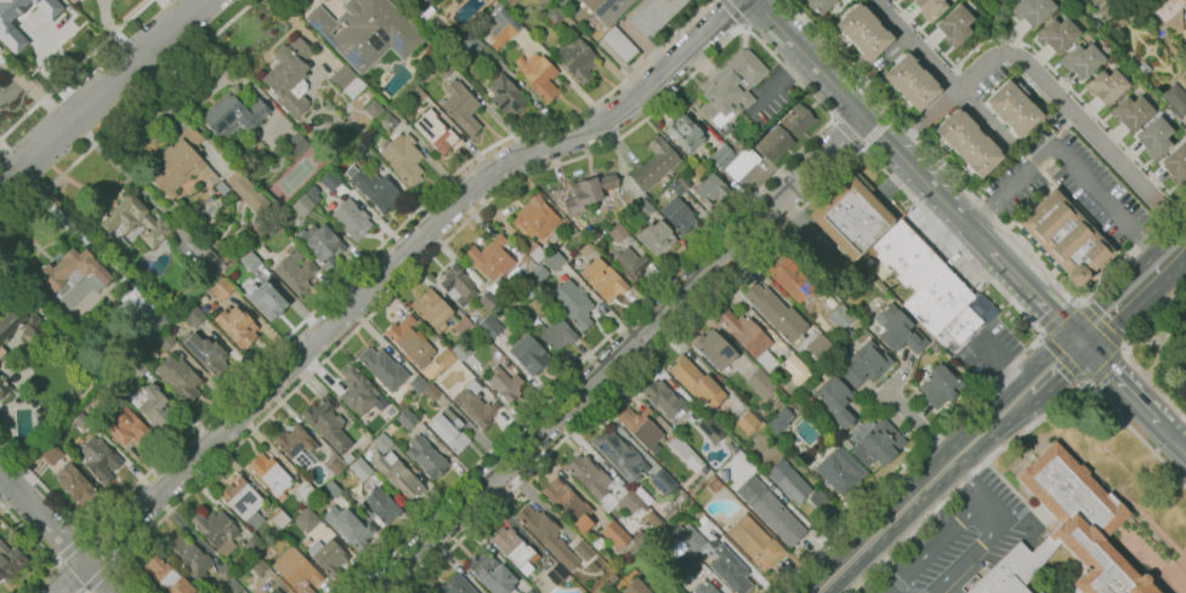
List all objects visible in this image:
building: (73, 0)
building: (76, 0)
building: (511, 2)
building: (819, 5)
building: (420, 7)
building: (607, 8)
building: (930, 8)
building: (1168, 8)
building: (1032, 11)
building: (555, 13)
building: (653, 15)
road: (730, 15)
building: (1174, 19)
building: (503, 25)
building: (954, 25)
building: (367, 32)
building: (10, 33)
building: (862, 33)
building: (1056, 34)
building: (620, 44)
building: (471, 47)
road: (715, 51)
building: (577, 59)
building: (1082, 61)
building: (443, 68)
road: (75, 70)
road: (938, 72)
building: (538, 74)
building: (290, 78)
building: (347, 81)
road: (777, 81)
building: (909, 82)
road: (1048, 84)
building: (1106, 85)
building: (731, 86)
road: (100, 91)
building: (505, 95)
building: (460, 107)
building: (1014, 107)
building: (373, 109)
building: (1131, 112)
road: (126, 115)
building: (233, 116)
road: (833, 118)
building: (387, 121)
building: (1185, 121)
road: (872, 125)
road: (879, 129)
building: (435, 131)
building: (726, 131)
building: (784, 131)
road: (849, 132)
building: (685, 133)
building: (1154, 137)
building: (966, 142)
building: (294, 144)
building: (737, 147)
road: (862, 147)
building: (359, 149)
road: (858, 152)
building: (722, 155)
building: (402, 158)
road: (114, 161)
building: (1176, 162)
building: (742, 164)
building: (175, 165)
building: (648, 171)
park: (293, 176)
building: (683, 182)
building: (221, 187)
building: (376, 188)
building: (676, 188)
building: (709, 189)
building: (588, 192)
building: (249, 193)
building: (312, 193)
road: (1004, 193)
road: (1101, 196)
building: (302, 205)
building: (643, 206)
road: (984, 206)
building: (677, 215)
building: (850, 215)
building: (534, 217)
building: (132, 219)
building: (351, 219)
building: (562, 223)
building: (618, 233)
building: (1065, 236)
building: (657, 238)
building: (123, 244)
building: (320, 244)
road: (1174, 250)
building: (535, 252)
building: (229, 253)
building: (906, 255)
building: (554, 260)
building: (250, 261)
building: (524, 263)
building: (630, 263)
building: (208, 264)
building: (492, 264)
building: (295, 270)
building: (70, 272)
building: (538, 273)
road: (380, 274)
building: (603, 279)
building: (794, 284)
building: (458, 285)
building: (220, 287)
road: (337, 289)
building: (526, 289)
road: (1034, 296)
building: (937, 300)
building: (267, 301)
building: (488, 301)
building: (572, 302)
road: (1119, 302)
road: (1077, 303)
building: (431, 309)
building: (774, 312)
building: (839, 317)
building: (197, 318)
road: (1059, 318)
building: (18, 321)
building: (965, 321)
building: (535, 323)
road: (1100, 325)
building: (152, 326)
building: (237, 326)
building: (463, 326)
building: (488, 326)
building: (900, 330)
building: (555, 333)
road: (1042, 335)
building: (749, 338)
building: (165, 340)
building: (409, 341)
road: (1156, 341)
traffic signals: (1077, 344)
building: (819, 347)
road: (1123, 347)
building: (714, 349)
road: (1127, 349)
building: (1, 350)
building: (460, 350)
building: (206, 353)
park: (1164, 353)
building: (529, 354)
road: (620, 354)
building: (446, 358)
road: (1063, 359)
building: (864, 364)
road: (999, 366)
road: (1106, 366)
building: (382, 367)
building: (137, 370)
building: (790, 374)
building: (177, 376)
road: (1040, 377)
road: (1117, 382)
building: (418, 383)
building: (504, 383)
building: (697, 383)
building: (760, 383)
road: (1088, 383)
building: (940, 386)
building: (4, 388)
road: (885, 389)
building: (357, 390)
building: (431, 392)
building: (804, 395)
building: (664, 400)
building: (835, 400)
building: (151, 405)
building: (401, 405)
building: (476, 405)
building: (407, 418)
building: (81, 421)
building: (778, 421)
building: (747, 422)
building: (23, 423)
building: (328, 423)
road: (919, 423)
building: (125, 424)
building: (641, 428)
building: (449, 429)
building: (710, 429)
road: (978, 434)
road: (1016, 437)
road: (1171, 438)
building: (881, 441)
building: (381, 443)
building: (296, 446)
flagpole: (1105, 447)
building: (685, 452)
building: (51, 454)
building: (618, 454)
building: (426, 457)
building: (98, 458)
building: (348, 458)
road: (1118, 462)
building: (334, 464)
building: (359, 468)
building: (839, 471)
building: (269, 473)
building: (398, 475)
building: (589, 475)
building: (662, 481)
building: (713, 483)
building: (75, 484)
building: (795, 485)
building: (329, 490)
building: (305, 492)
building: (240, 498)
building: (629, 502)
building: (567, 503)
building: (381, 506)
road: (1131, 506)
building: (770, 511)
building: (278, 518)
building: (306, 519)
building: (702, 520)
building: (716, 524)
road: (884, 525)
building: (347, 526)
building: (216, 531)
building: (1067, 531)
road: (987, 532)
road: (57, 534)
building: (614, 534)
building: (546, 535)
building: (754, 540)
building: (597, 542)
parking lot: (958, 542)
building: (251, 544)
road: (931, 546)
road: (69, 547)
road: (100, 548)
road: (42, 549)
building: (515, 549)
building: (583, 549)
building: (328, 557)
building: (189, 558)
building: (716, 558)
building: (686, 559)
building: (10, 560)
building: (256, 564)
building: (296, 571)
building: (225, 572)
building: (492, 574)
building: (556, 574)
road: (67, 576)
building: (166, 576)
road: (98, 577)
road: (1171, 578)
building: (456, 586)
building: (229, 587)
building: (635, 587)
building: (704, 588)
building: (262, 589)
road: (80, 591)
building: (273, 591)
building: (530, 591)
building: (674, 592)
building: (1040, 592)

